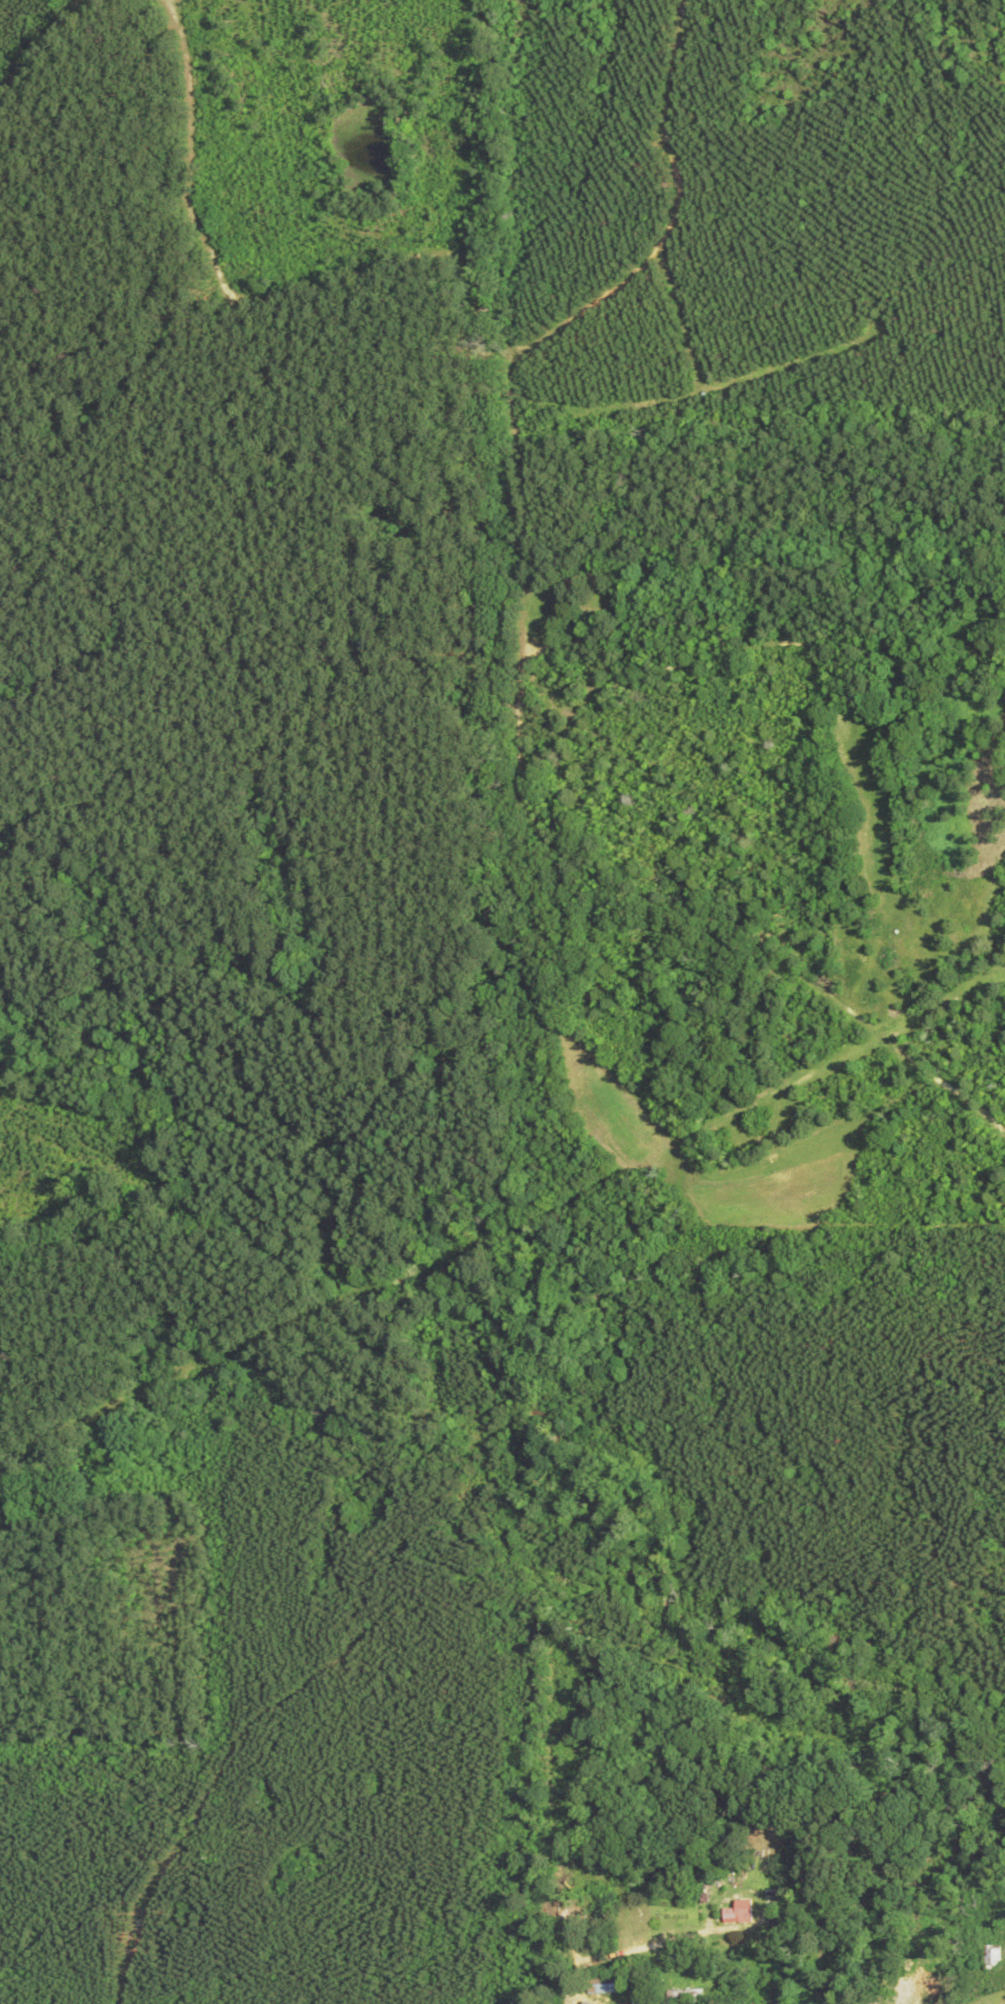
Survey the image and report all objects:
road: (317, 1856)
building: (549, 1911)
building: (734, 1912)
building: (989, 1959)
building: (598, 1986)
building: (632, 2000)
building: (913, 2002)

